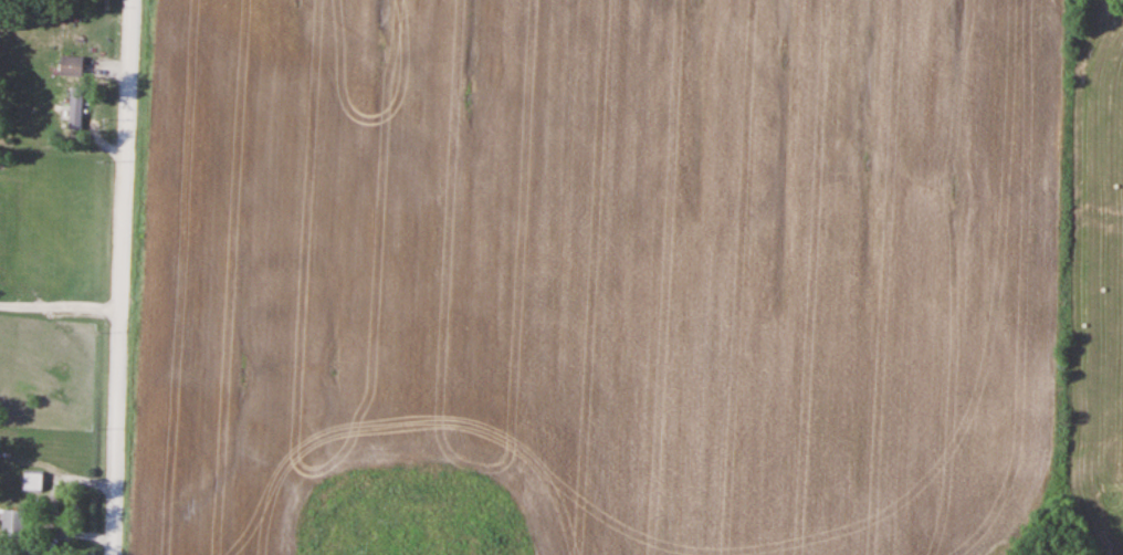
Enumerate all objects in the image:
building: (72, 66)
road: (120, 277)
road: (60, 297)
building: (32, 481)
building: (14, 520)

